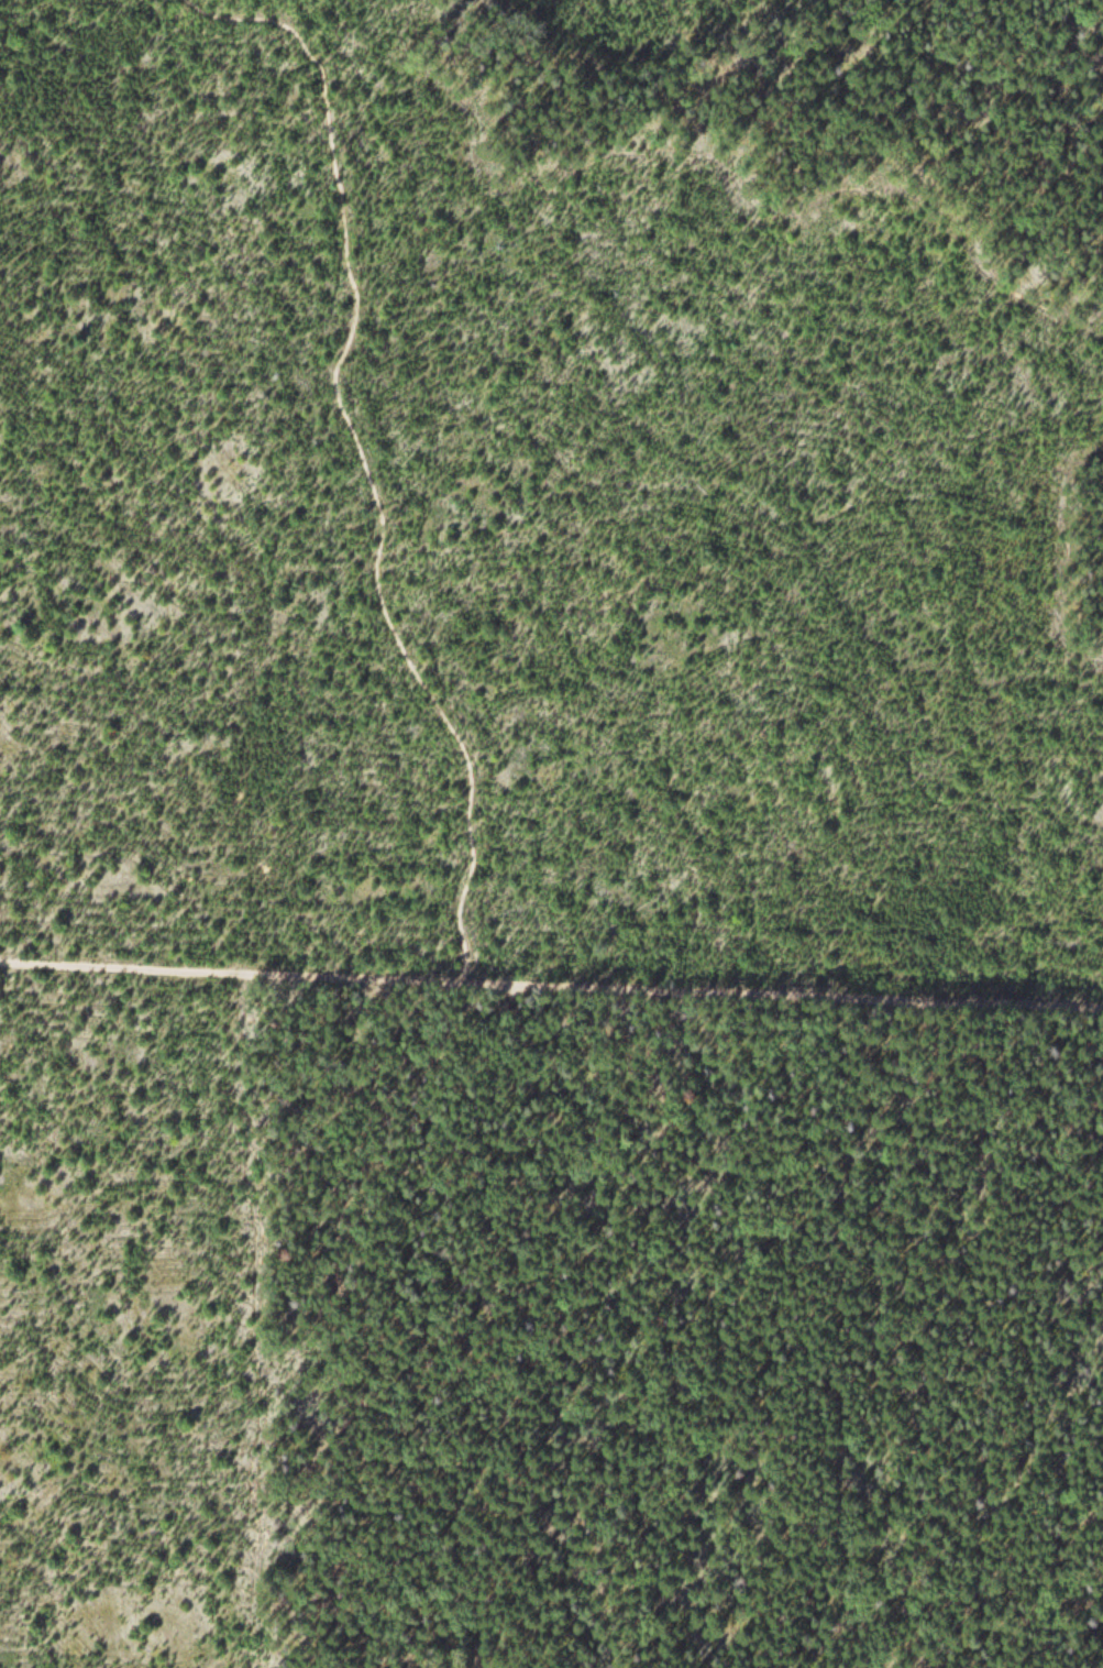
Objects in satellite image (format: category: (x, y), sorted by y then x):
road: (468, 788)
road: (551, 977)

